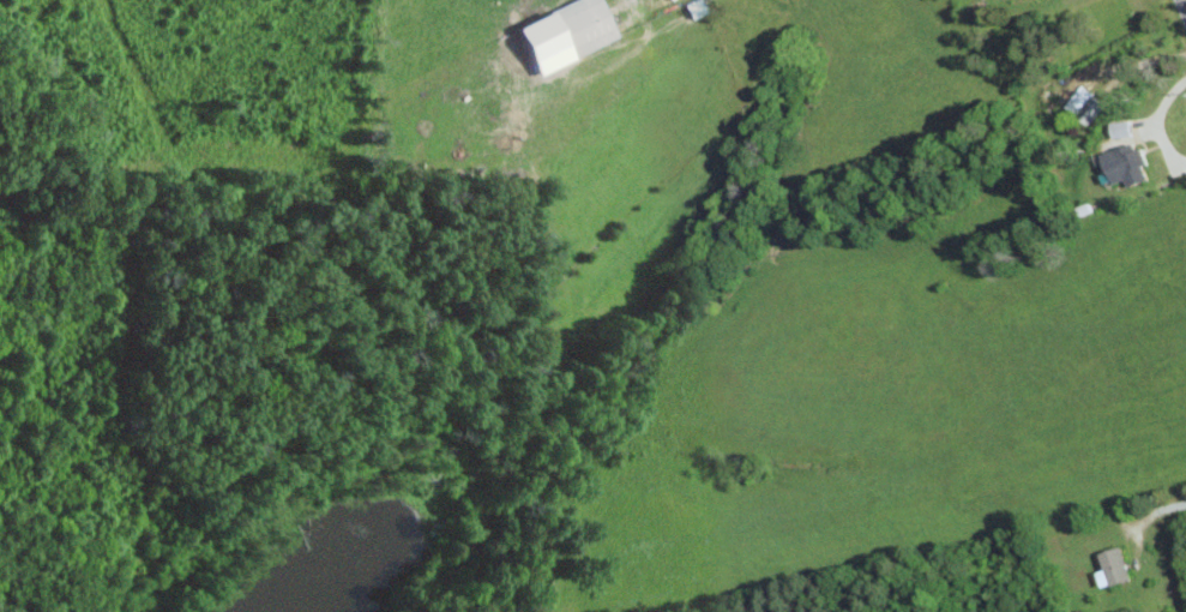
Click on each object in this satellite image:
road: (1182, 7)
building: (588, 24)
road: (1156, 120)
building: (1124, 127)
building: (1130, 164)
road: (1155, 510)
building: (1116, 566)

